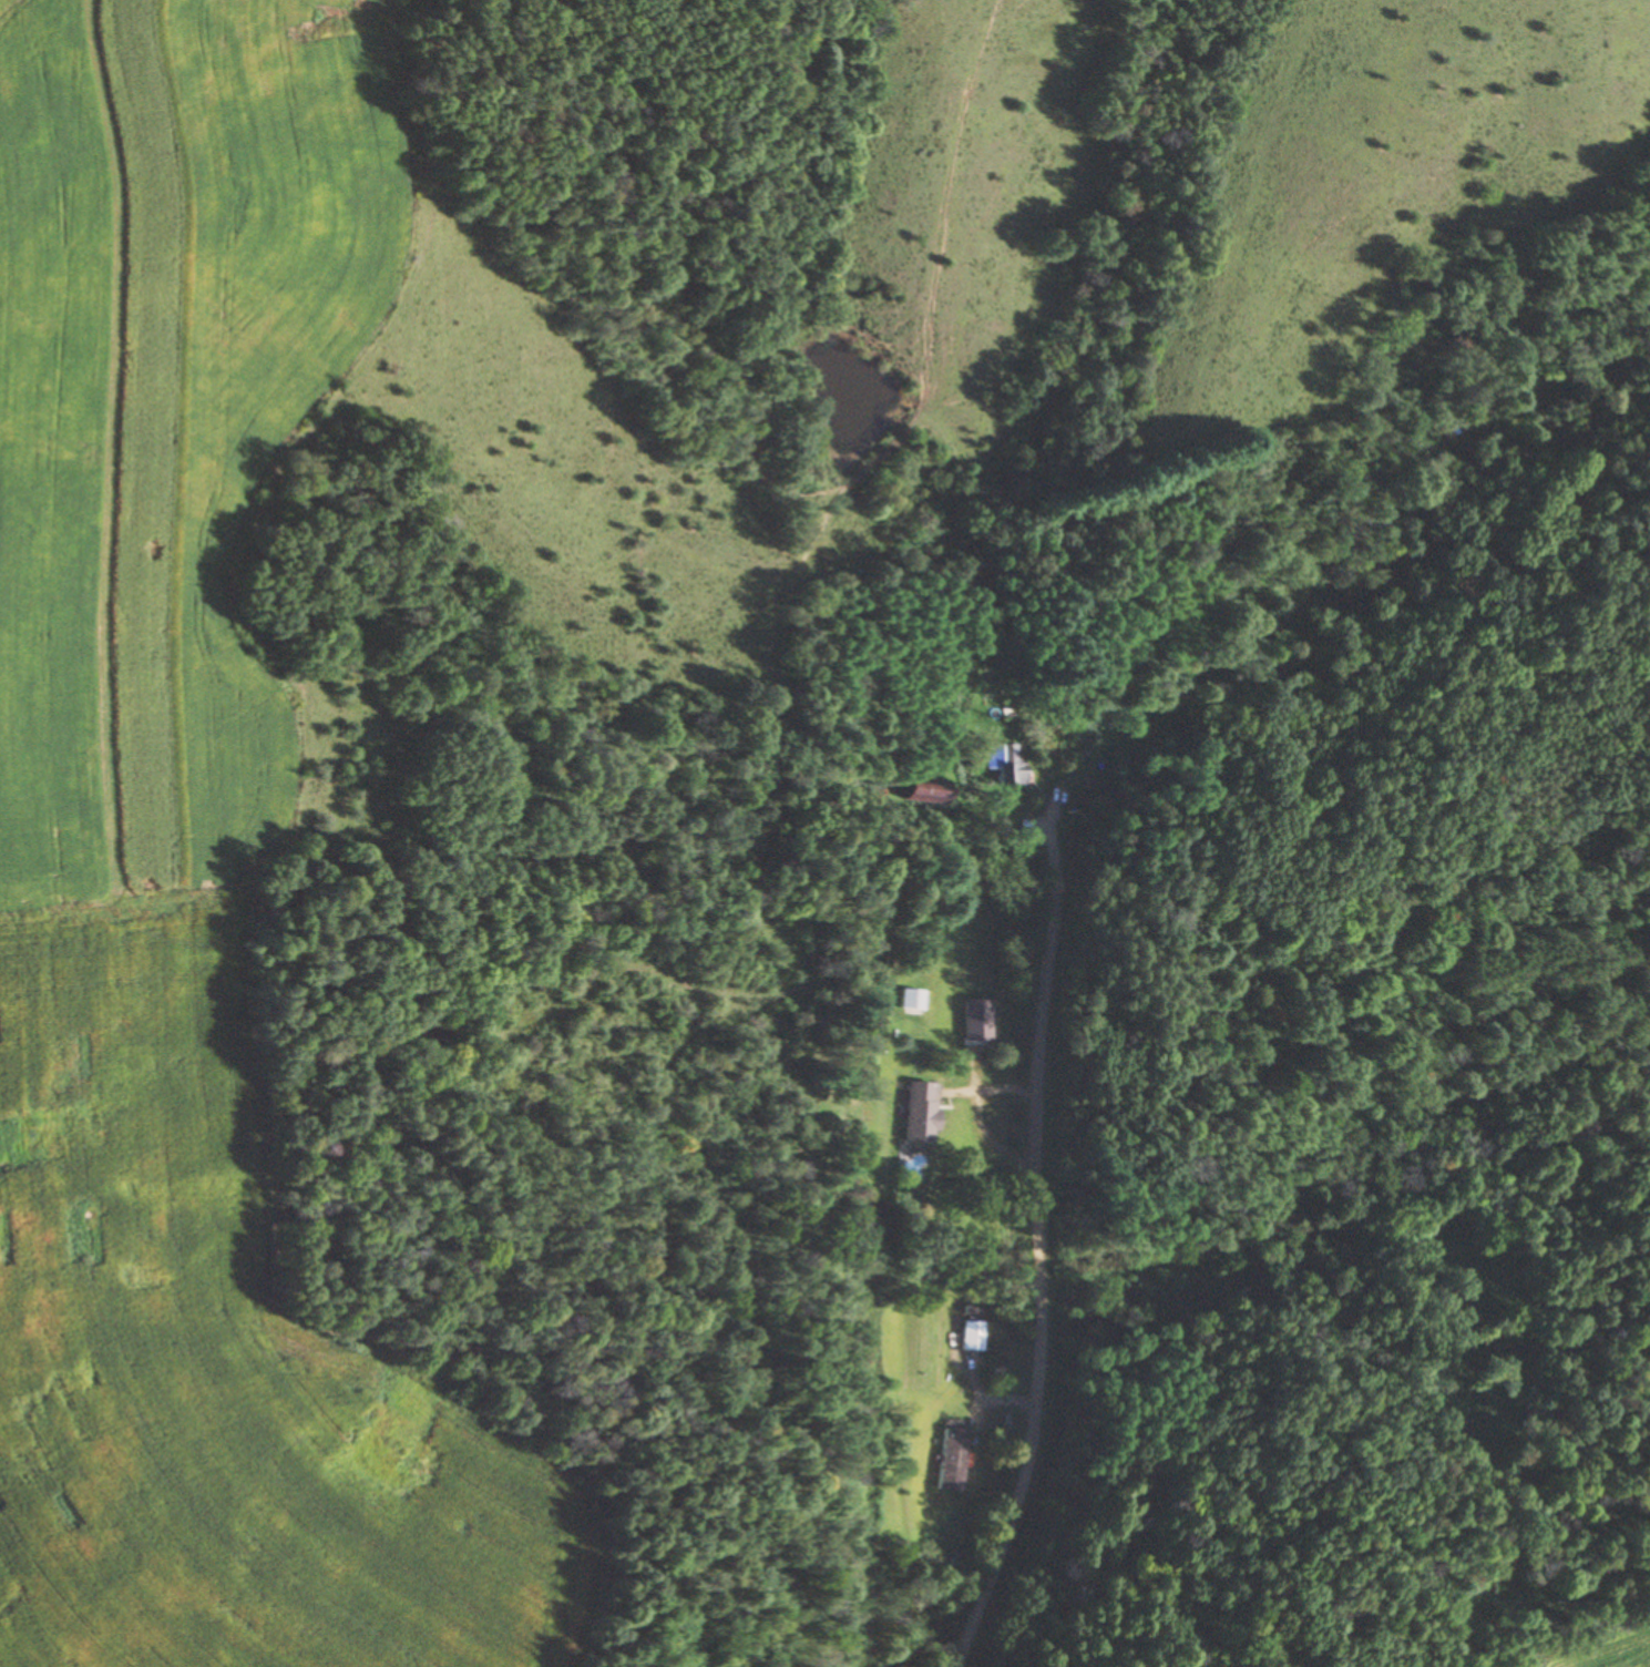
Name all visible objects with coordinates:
building: (1000, 765)
building: (916, 790)
building: (909, 1001)
building: (970, 1020)
building: (915, 1113)
road: (1031, 1262)
building: (963, 1310)
building: (965, 1337)
building: (946, 1459)

